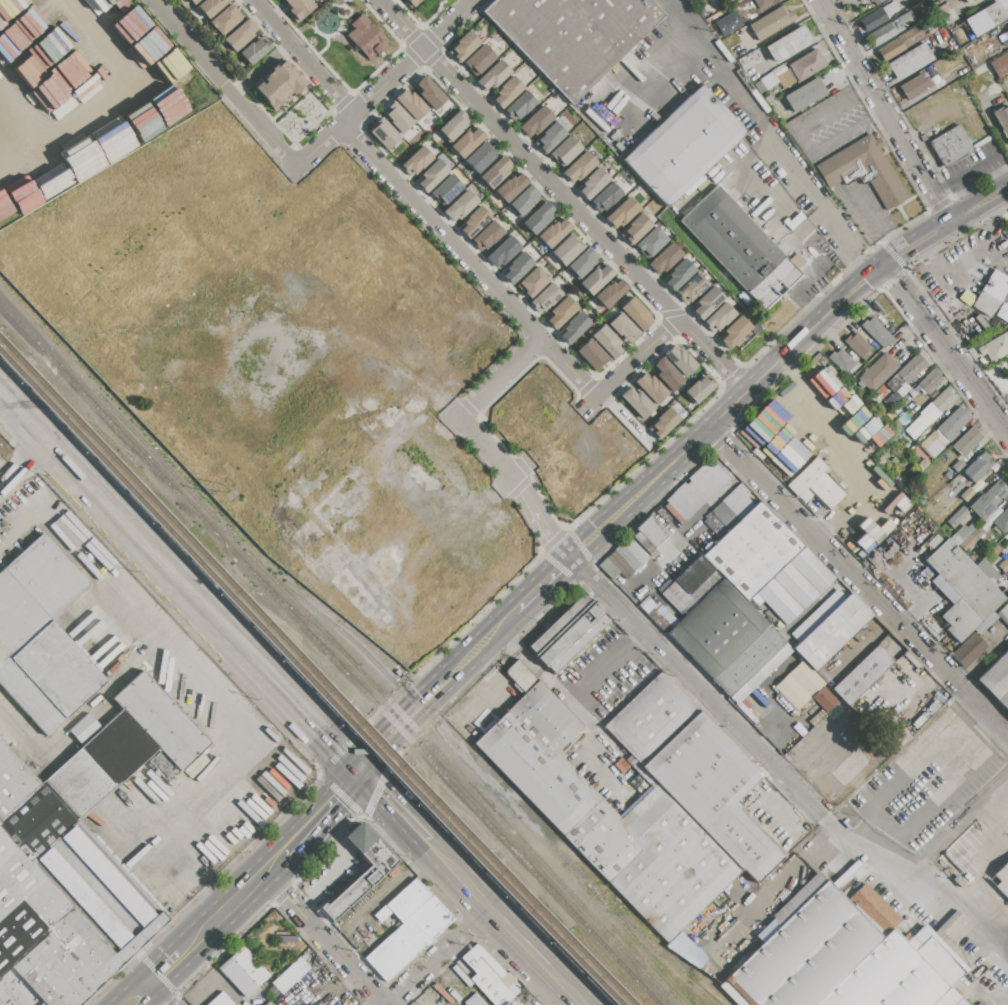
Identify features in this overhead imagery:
building: (321, 0)
building: (194, 1)
building: (877, 1)
building: (967, 1)
building: (412, 3)
building: (765, 3)
road: (343, 6)
building: (211, 7)
building: (299, 8)
park: (432, 10)
road: (345, 12)
building: (946, 14)
building: (878, 16)
road: (681, 19)
building: (985, 19)
building: (225, 20)
building: (770, 23)
building: (1007, 27)
building: (892, 28)
road: (336, 31)
building: (1007, 31)
building: (240, 35)
building: (367, 36)
building: (575, 36)
building: (901, 43)
building: (788, 44)
building: (464, 46)
road: (322, 50)
building: (254, 51)
road: (305, 56)
building: (480, 59)
road: (408, 61)
building: (910, 61)
building: (999, 64)
building: (807, 65)
road: (264, 69)
building: (494, 75)
building: (66, 78)
road: (223, 84)
building: (281, 85)
building: (915, 86)
road: (644, 89)
building: (507, 91)
building: (429, 93)
building: (804, 94)
road: (290, 101)
road: (102, 103)
building: (411, 104)
building: (520, 105)
road: (885, 111)
building: (397, 117)
building: (1002, 120)
building: (537, 121)
building: (452, 128)
building: (383, 133)
road: (771, 134)
building: (550, 136)
building: (468, 141)
road: (801, 142)
road: (319, 146)
building: (687, 146)
building: (951, 146)
building: (566, 150)
road: (13, 152)
building: (479, 158)
building: (415, 160)
road: (530, 160)
road: (977, 160)
building: (580, 166)
building: (867, 171)
building: (495, 172)
building: (431, 175)
building: (593, 183)
building: (512, 186)
building: (447, 189)
road: (966, 190)
building: (607, 197)
building: (524, 201)
building: (461, 206)
building: (623, 211)
building: (539, 217)
building: (475, 221)
road: (878, 225)
building: (636, 228)
building: (554, 232)
building: (487, 236)
building: (652, 241)
building: (742, 248)
building: (567, 249)
building: (504, 251)
building: (665, 257)
traffic signals: (897, 257)
road: (470, 260)
building: (582, 263)
building: (518, 268)
building: (1000, 269)
building: (679, 273)
building: (596, 279)
traffic signals: (867, 279)
building: (533, 281)
traffic signals: (897, 281)
building: (693, 287)
building: (610, 292)
building: (990, 294)
building: (545, 298)
building: (707, 302)
building: (561, 312)
building: (636, 313)
building: (720, 317)
building: (574, 327)
building: (624, 329)
building: (735, 331)
building: (876, 332)
building: (606, 342)
building: (856, 345)
road: (946, 347)
building: (995, 347)
building: (591, 355)
road: (714, 356)
building: (680, 360)
road: (780, 361)
building: (840, 361)
road: (630, 365)
building: (906, 372)
building: (877, 373)
building: (666, 374)
road: (500, 378)
building: (930, 381)
building: (650, 389)
building: (699, 389)
building: (898, 393)
building: (912, 393)
building: (637, 402)
building: (930, 414)
railway: (80, 417)
road: (1004, 419)
building: (663, 423)
building: (946, 431)
building: (967, 441)
building: (773, 445)
road: (826, 449)
road: (491, 453)
road: (24, 464)
building: (922, 465)
building: (956, 466)
building: (977, 467)
building: (814, 483)
building: (695, 490)
building: (966, 494)
building: (988, 500)
building: (956, 517)
road: (123, 520)
building: (1001, 522)
road: (545, 526)
building: (652, 532)
building: (961, 534)
building: (1007, 535)
building: (970, 540)
building: (645, 544)
building: (635, 550)
building: (753, 550)
road: (89, 556)
building: (975, 557)
building: (627, 558)
building: (1006, 561)
building: (619, 565)
building: (609, 569)
building: (987, 571)
building: (693, 574)
road: (857, 577)
road: (544, 585)
building: (795, 585)
building: (705, 586)
building: (962, 591)
building: (678, 598)
building: (658, 614)
building: (1003, 614)
road: (507, 616)
railway: (309, 625)
building: (718, 628)
building: (828, 628)
building: (568, 633)
building: (42, 637)
building: (967, 649)
railway: (329, 654)
road: (454, 654)
building: (845, 657)
building: (752, 664)
building: (862, 674)
railway: (317, 677)
building: (997, 679)
railway: (311, 683)
building: (799, 685)
railway: (387, 699)
road: (434, 702)
road: (224, 705)
road: (297, 706)
road: (574, 711)
road: (379, 725)
road: (1005, 727)
building: (83, 728)
traffic signals: (369, 736)
traffic signals: (337, 748)
building: (695, 769)
road: (356, 770)
road: (785, 778)
railway: (487, 779)
parking lot: (925, 786)
traffic signals: (379, 794)
traffic signals: (345, 806)
road: (339, 811)
road: (396, 811)
building: (606, 815)
road: (887, 828)
road: (300, 853)
building: (77, 856)
building: (360, 871)
road: (459, 876)
building: (1001, 879)
road: (225, 883)
road: (769, 885)
building: (408, 927)
road: (320, 931)
road: (215, 934)
road: (519, 937)
building: (685, 951)
road: (439, 957)
building: (847, 958)
railway: (677, 961)
building: (244, 972)
building: (290, 975)
building: (486, 975)
road: (566, 985)
road: (149, 988)
building: (220, 1000)
building: (473, 1001)
building: (267, 1003)
building: (507, 1004)

